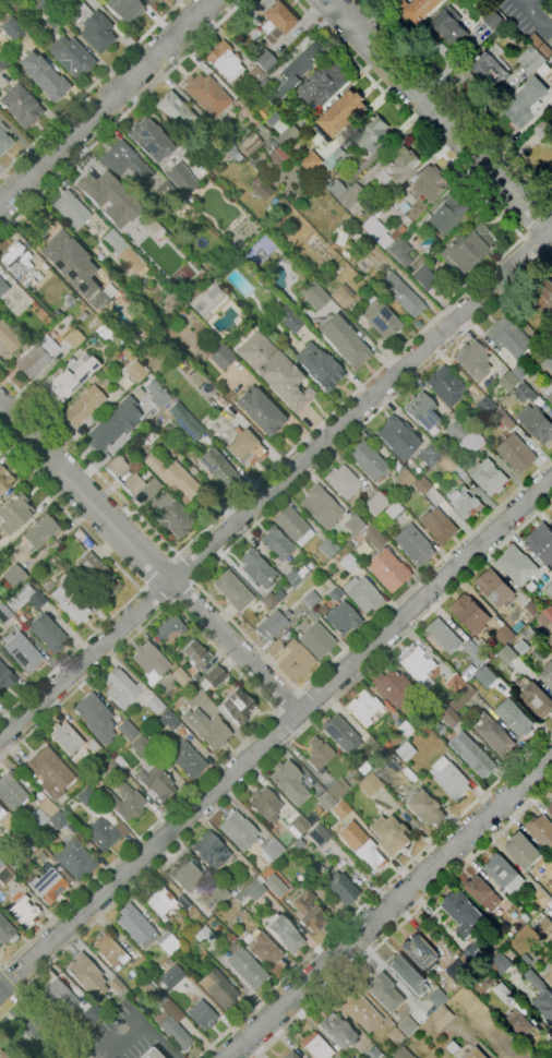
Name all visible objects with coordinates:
building: (159, 0)
building: (148, 1)
road: (523, 1)
road: (526, 1)
building: (124, 9)
building: (419, 9)
building: (47, 14)
parking lot: (528, 16)
road: (537, 16)
building: (274, 19)
building: (492, 19)
building: (260, 22)
building: (92, 26)
building: (451, 26)
building: (11, 27)
road: (551, 28)
building: (536, 40)
building: (545, 50)
building: (71, 57)
building: (263, 60)
building: (531, 60)
building: (225, 62)
building: (2, 63)
building: (492, 67)
building: (298, 70)
building: (544, 70)
building: (254, 74)
building: (43, 76)
building: (263, 84)
building: (325, 84)
road: (89, 86)
building: (551, 88)
building: (206, 94)
road: (460, 94)
building: (528, 100)
road: (106, 101)
building: (20, 106)
building: (172, 109)
building: (341, 116)
road: (121, 117)
road: (440, 118)
building: (223, 120)
building: (275, 120)
building: (373, 134)
building: (290, 135)
building: (3, 139)
building: (149, 139)
building: (251, 144)
building: (227, 147)
building: (280, 156)
building: (336, 158)
building: (123, 161)
building: (312, 161)
building: (399, 167)
building: (179, 178)
building: (430, 184)
building: (261, 188)
building: (336, 188)
building: (163, 190)
building: (381, 191)
building: (350, 195)
building: (109, 197)
building: (70, 209)
building: (447, 214)
building: (149, 223)
road: (537, 224)
building: (46, 227)
building: (375, 230)
building: (341, 236)
building: (356, 238)
building: (466, 248)
road: (550, 250)
building: (122, 251)
building: (400, 251)
building: (16, 260)
building: (73, 268)
building: (423, 276)
building: (2, 287)
building: (399, 293)
building: (312, 294)
building: (341, 294)
building: (544, 297)
building: (83, 314)
building: (380, 317)
building: (20, 330)
building: (104, 332)
building: (9, 337)
building: (73, 337)
building: (513, 337)
building: (344, 340)
building: (36, 356)
building: (220, 356)
building: (472, 361)
building: (549, 363)
building: (319, 366)
building: (273, 370)
building: (135, 371)
road: (375, 372)
building: (521, 372)
building: (68, 381)
building: (511, 382)
building: (445, 385)
building: (549, 392)
building: (526, 393)
building: (157, 394)
building: (219, 400)
building: (83, 404)
building: (484, 405)
building: (259, 410)
building: (421, 412)
building: (504, 419)
building: (537, 423)
building: (113, 425)
building: (188, 425)
building: (456, 429)
building: (397, 437)
building: (470, 442)
building: (131, 445)
building: (243, 445)
building: (139, 452)
building: (429, 454)
building: (517, 454)
building: (368, 460)
building: (447, 462)
building: (216, 468)
building: (133, 476)
building: (401, 476)
building: (489, 477)
building: (173, 478)
building: (4, 480)
building: (343, 481)
road: (275, 485)
building: (421, 485)
building: (147, 491)
building: (375, 503)
building: (466, 503)
building: (321, 506)
building: (14, 512)
building: (391, 512)
building: (175, 518)
building: (353, 525)
building: (292, 526)
building: (439, 526)
building: (39, 531)
building: (370, 541)
building: (542, 542)
building: (276, 543)
building: (413, 544)
building: (348, 545)
building: (327, 548)
road: (148, 560)
building: (348, 562)
building: (518, 565)
road: (184, 568)
building: (256, 568)
building: (386, 569)
road: (157, 573)
building: (14, 575)
building: (97, 576)
building: (296, 576)
road: (197, 584)
road: (136, 585)
building: (496, 588)
road: (182, 589)
building: (232, 590)
building: (549, 590)
building: (334, 593)
building: (362, 593)
building: (25, 597)
building: (271, 598)
building: (310, 598)
building: (69, 601)
building: (533, 609)
building: (4, 613)
building: (472, 614)
building: (339, 616)
building: (545, 616)
building: (272, 623)
building: (518, 626)
building: (169, 630)
building: (47, 632)
building: (528, 632)
building: (505, 635)
building: (444, 636)
building: (315, 637)
building: (0, 638)
building: (480, 642)
building: (551, 644)
building: (523, 647)
building: (21, 650)
building: (476, 653)
building: (195, 654)
building: (508, 654)
building: (539, 656)
building: (290, 658)
building: (148, 659)
building: (418, 664)
building: (548, 674)
building: (195, 675)
building: (5, 676)
building: (485, 676)
building: (181, 677)
building: (212, 677)
building: (454, 683)
building: (389, 686)
building: (120, 687)
building: (0, 688)
building: (192, 695)
road: (287, 700)
building: (537, 700)
building: (155, 704)
building: (454, 705)
building: (237, 706)
road: (272, 706)
building: (432, 706)
building: (362, 707)
building: (95, 717)
building: (515, 718)
building: (169, 719)
building: (206, 728)
building: (404, 729)
building: (128, 730)
road: (275, 733)
building: (340, 733)
building: (494, 735)
building: (65, 737)
building: (92, 745)
building: (143, 746)
building: (405, 750)
building: (319, 754)
building: (376, 754)
building: (469, 754)
building: (188, 759)
building: (394, 762)
building: (116, 765)
building: (363, 767)
building: (379, 768)
building: (49, 772)
road: (250, 776)
building: (448, 779)
building: (155, 781)
building: (288, 782)
building: (369, 784)
building: (337, 789)
building: (11, 791)
building: (85, 796)
building: (124, 801)
building: (326, 802)
building: (264, 804)
building: (422, 806)
building: (47, 807)
building: (337, 808)
building: (551, 809)
building: (1, 810)
building: (37, 817)
building: (58, 819)
building: (297, 826)
building: (238, 830)
building: (542, 831)
building: (104, 833)
building: (391, 833)
building: (317, 834)
building: (285, 839)
building: (32, 846)
building: (211, 850)
building: (271, 851)
building: (525, 851)
building: (371, 856)
building: (74, 858)
building: (0, 863)
building: (243, 865)
building: (505, 874)
building: (5, 875)
building: (242, 880)
building: (47, 882)
building: (197, 882)
building: (275, 886)
building: (339, 887)
building: (250, 890)
building: (232, 892)
building: (485, 893)
road: (374, 894)
building: (541, 898)
building: (158, 899)
building: (183, 902)
building: (175, 907)
road: (389, 909)
building: (308, 911)
building: (23, 912)
building: (464, 914)
building: (164, 918)
road: (403, 921)
building: (136, 925)
building: (545, 929)
building: (7, 931)
building: (284, 933)
building: (203, 936)
building: (168, 942)
building: (139, 948)
building: (263, 948)
building: (109, 949)
building: (423, 952)
building: (475, 952)
building: (177, 959)
building: (528, 959)
building: (168, 962)
building: (142, 964)
building: (501, 964)
building: (244, 966)
building: (458, 972)
building: (549, 972)
building: (406, 973)
building: (86, 974)
building: (434, 975)
building: (171, 976)
building: (115, 984)
building: (481, 984)
building: (146, 985)
building: (217, 988)
building: (391, 988)
building: (504, 991)
building: (381, 993)
building: (541, 994)
building: (436, 997)
building: (157, 998)
road: (11, 1000)
building: (69, 1000)
building: (359, 1010)
building: (201, 1014)
building: (442, 1017)
building: (520, 1023)
road: (32, 1024)
building: (407, 1025)
building: (336, 1030)
building: (172, 1031)
parking lot: (120, 1033)
building: (397, 1036)
road: (15, 1042)
building: (314, 1046)
building: (455, 1047)
building: (372, 1051)
road: (547, 1053)
building: (149, 1054)
building: (401, 1054)
building: (477, 1054)
building: (2, 1055)
building: (290, 1055)

